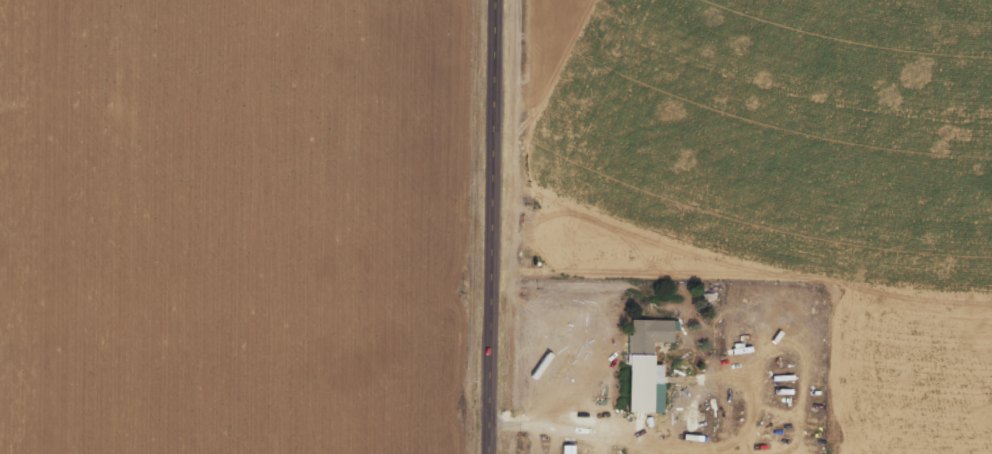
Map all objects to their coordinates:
road: (495, 227)

